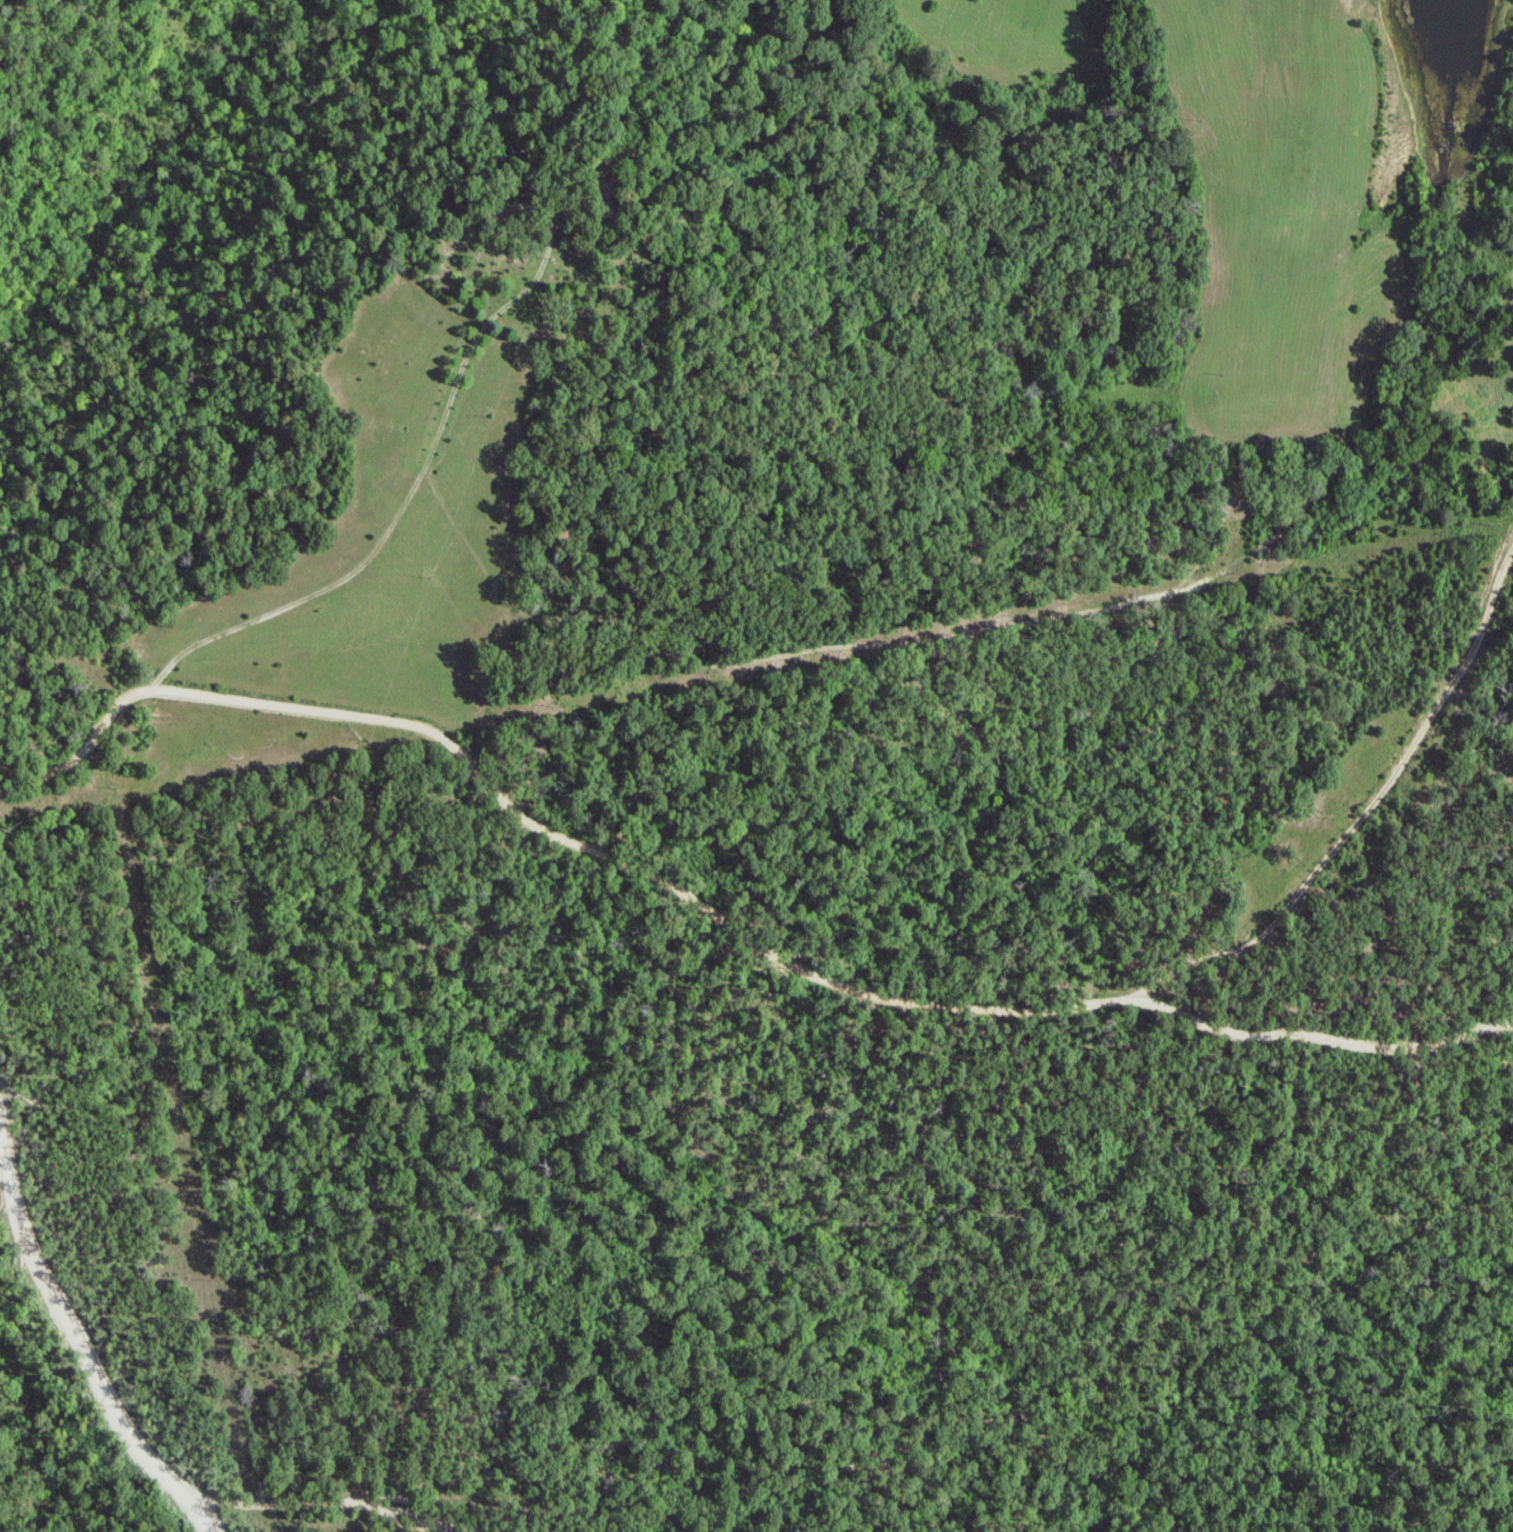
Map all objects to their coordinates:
road: (1345, 421)
road: (716, 487)
road: (407, 496)
road: (887, 642)
road: (1362, 818)
road: (719, 924)
road: (78, 1339)
road: (315, 1504)

